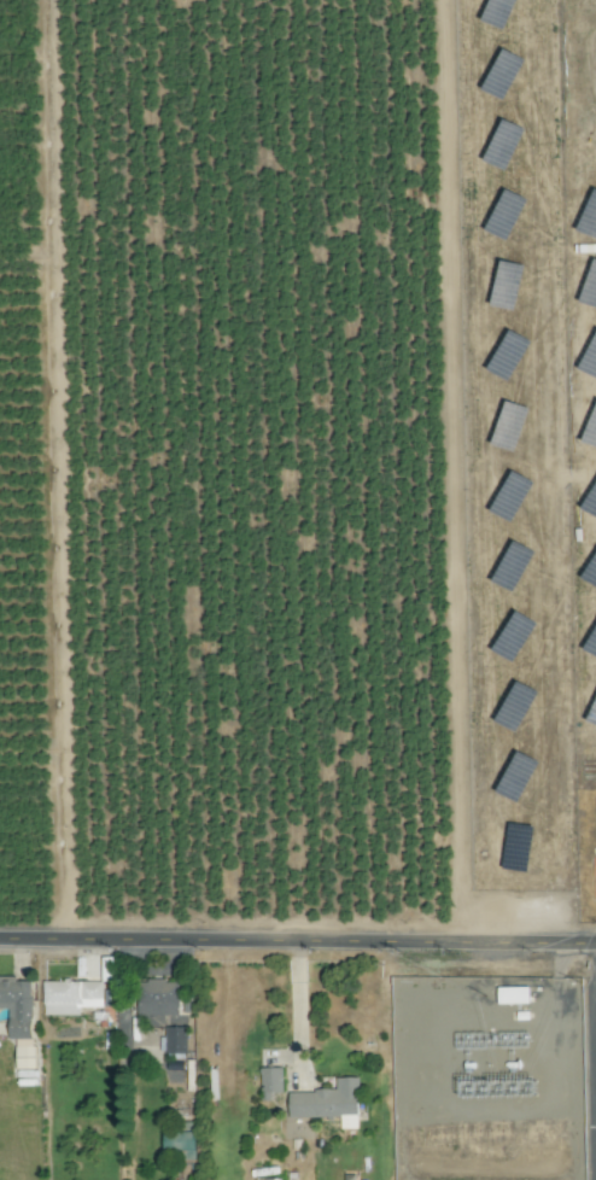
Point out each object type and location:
building: (589, 389)
building: (584, 413)
road: (298, 940)
building: (71, 998)
building: (158, 999)
road: (296, 999)
building: (18, 1006)
building: (175, 1041)
building: (270, 1083)
building: (328, 1104)

